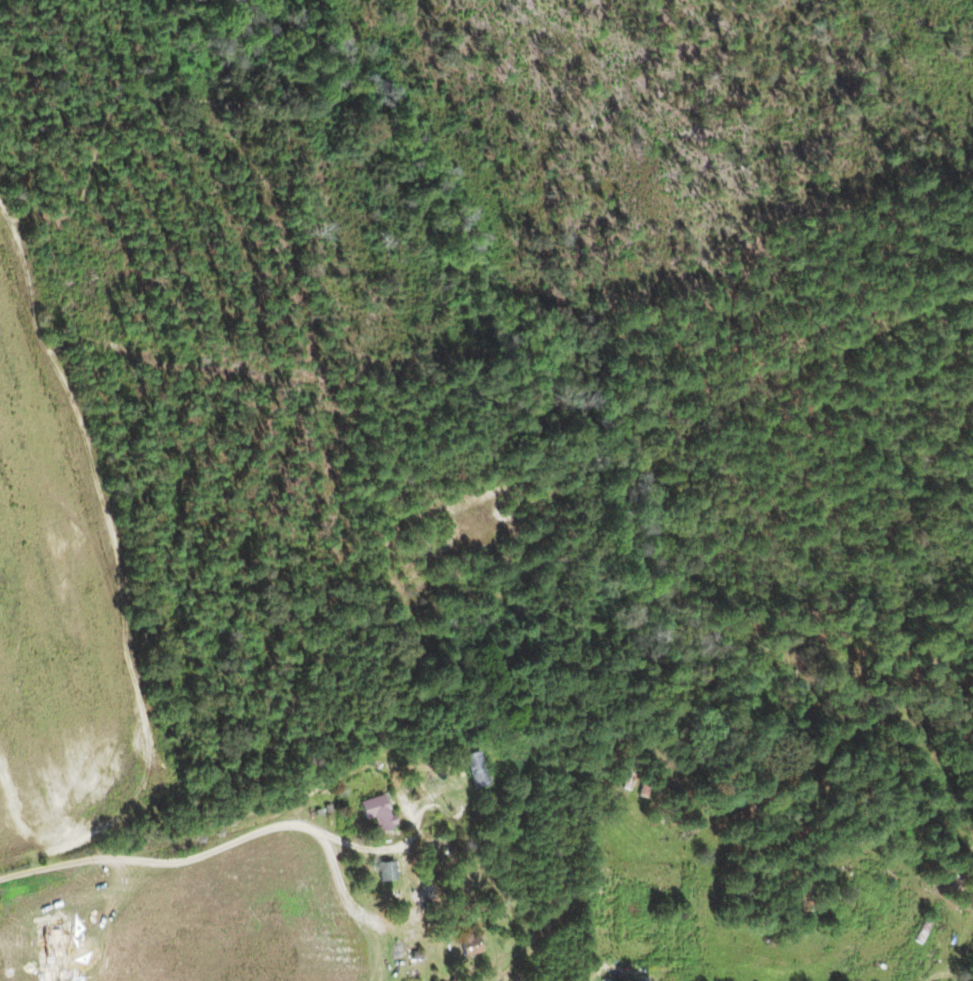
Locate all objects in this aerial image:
building: (476, 769)
road: (323, 781)
building: (377, 811)
building: (387, 870)
building: (471, 946)

